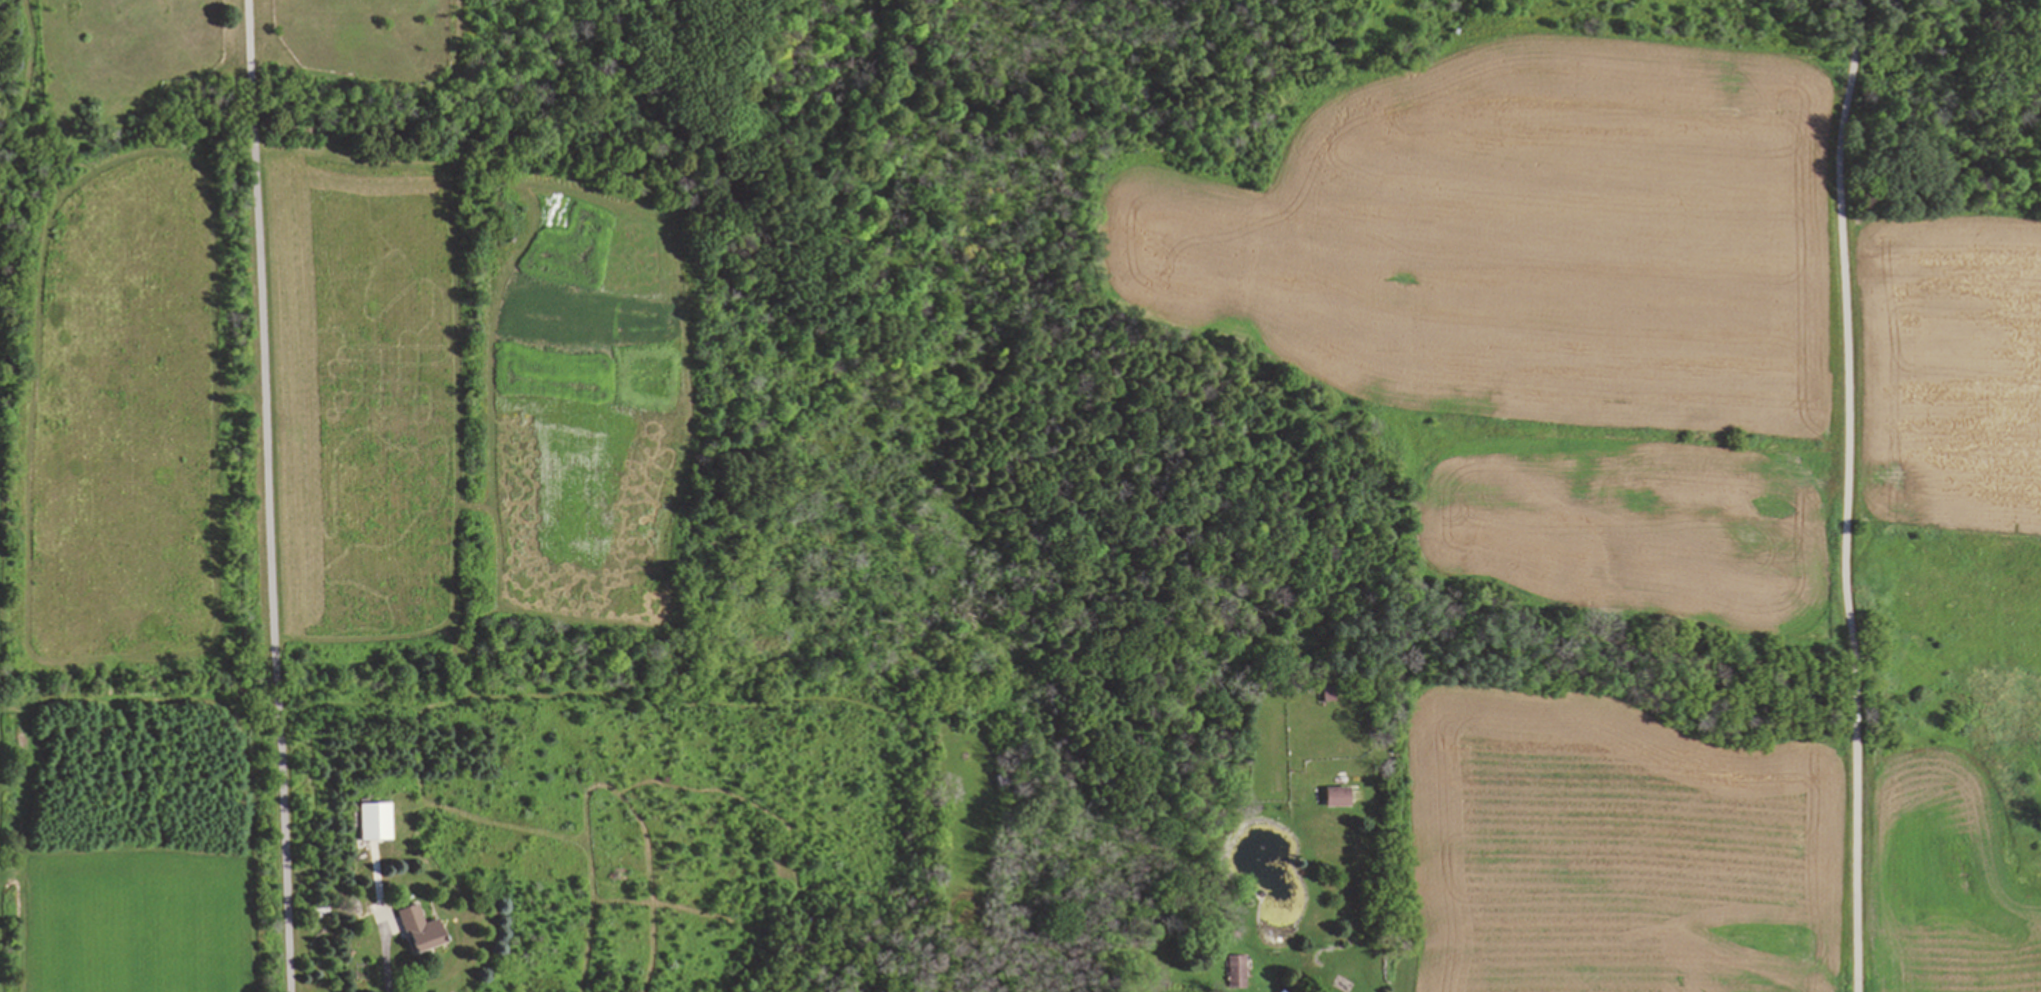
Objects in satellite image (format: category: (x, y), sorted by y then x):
road: (1848, 495)
road: (265, 496)
building: (1333, 796)
building: (373, 822)
building: (416, 929)
road: (381, 949)
building: (1236, 971)

